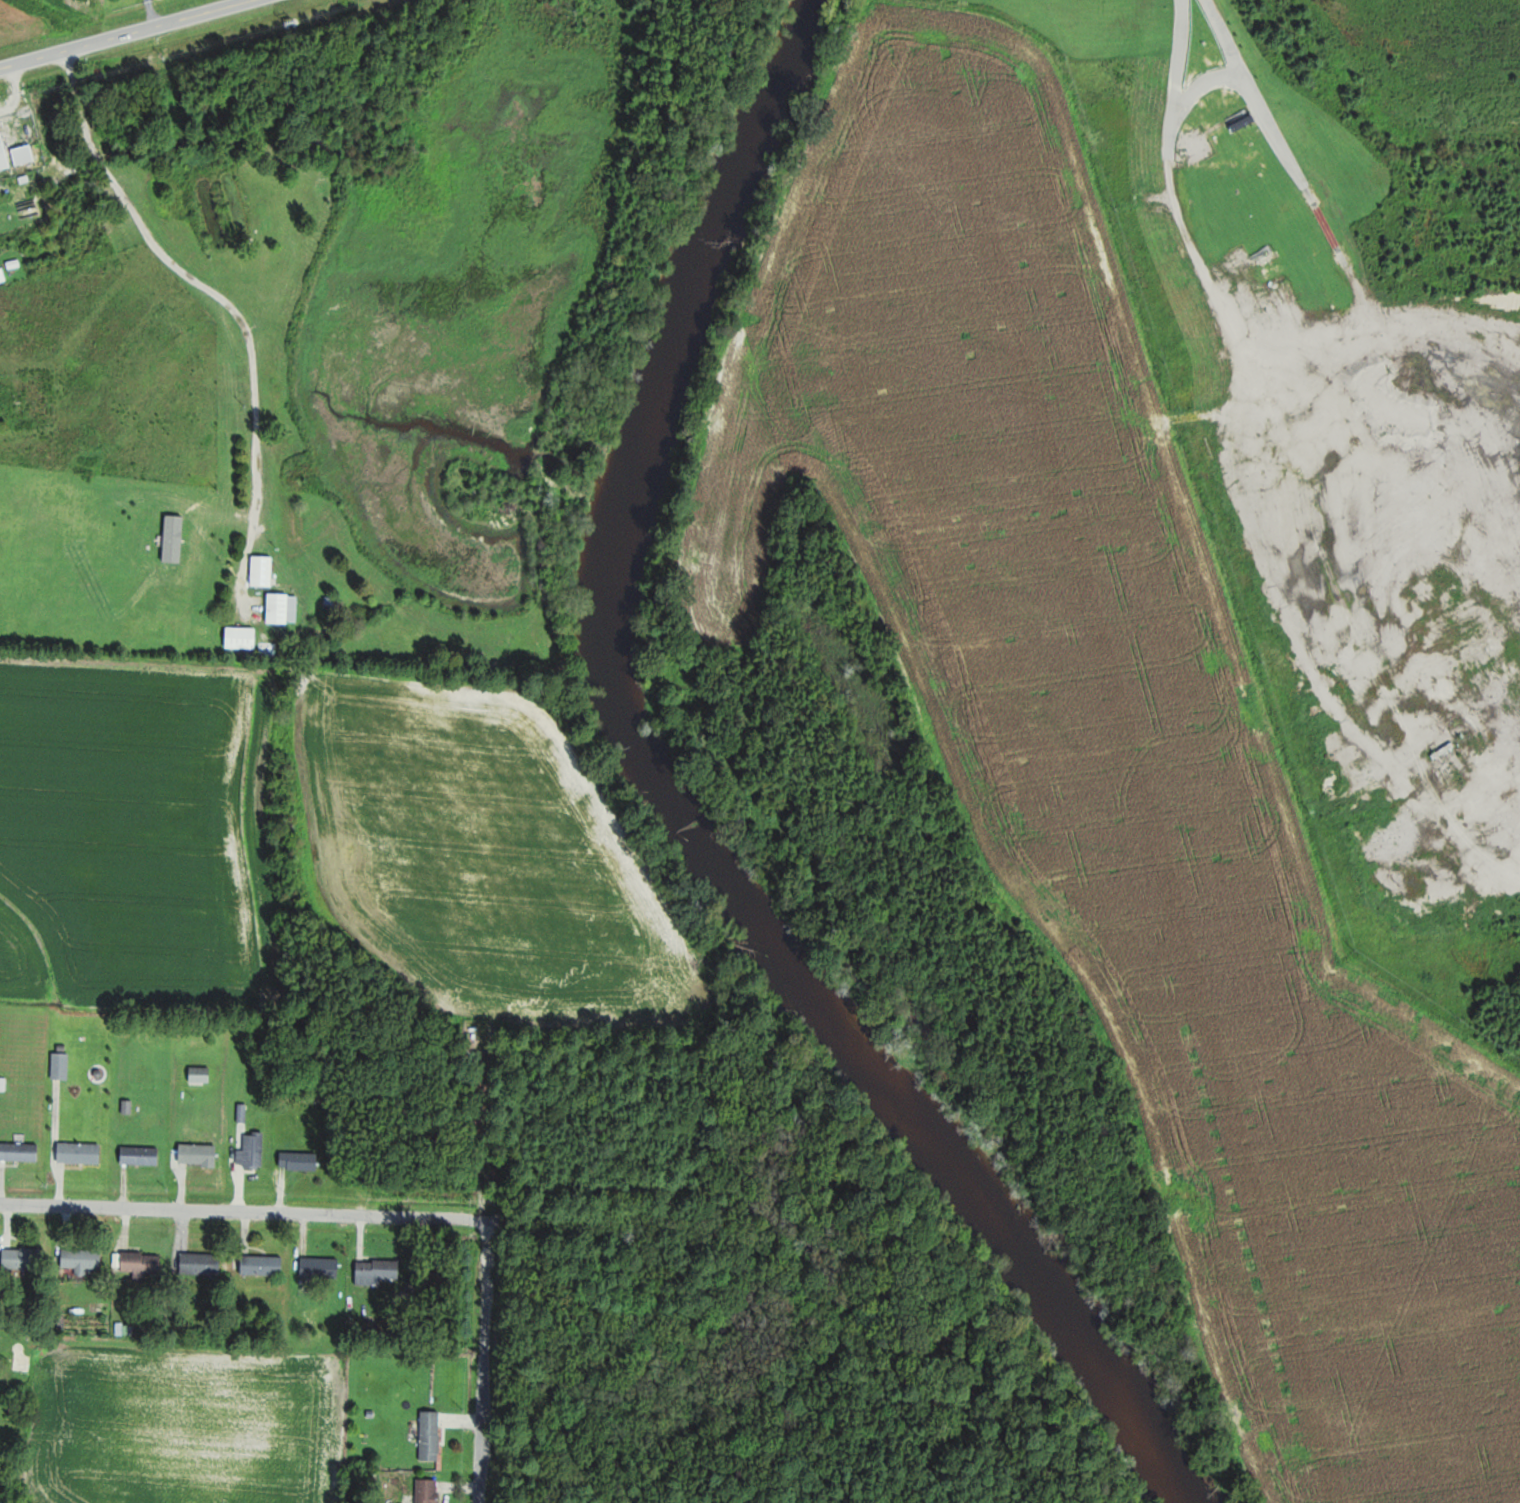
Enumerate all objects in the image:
road: (125, 34)
building: (1245, 122)
building: (4, 153)
building: (25, 154)
road: (271, 226)
road: (220, 298)
building: (263, 570)
building: (283, 608)
building: (242, 637)
building: (270, 650)
river: (700, 809)
building: (61, 1065)
building: (201, 1074)
building: (3, 1083)
building: (20, 1151)
building: (253, 1151)
building: (81, 1152)
building: (141, 1155)
building: (199, 1155)
building: (301, 1160)
road: (242, 1210)
building: (24, 1258)
building: (83, 1260)
building: (143, 1264)
building: (202, 1264)
building: (264, 1265)
building: (321, 1268)
building: (378, 1271)
road: (483, 1360)
building: (432, 1436)
building: (429, 1491)

